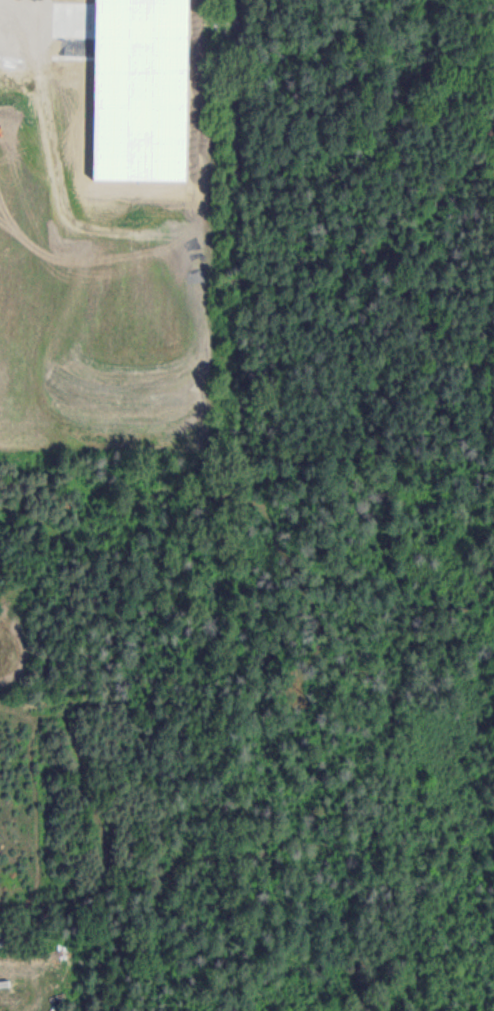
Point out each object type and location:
building: (3, 941)

